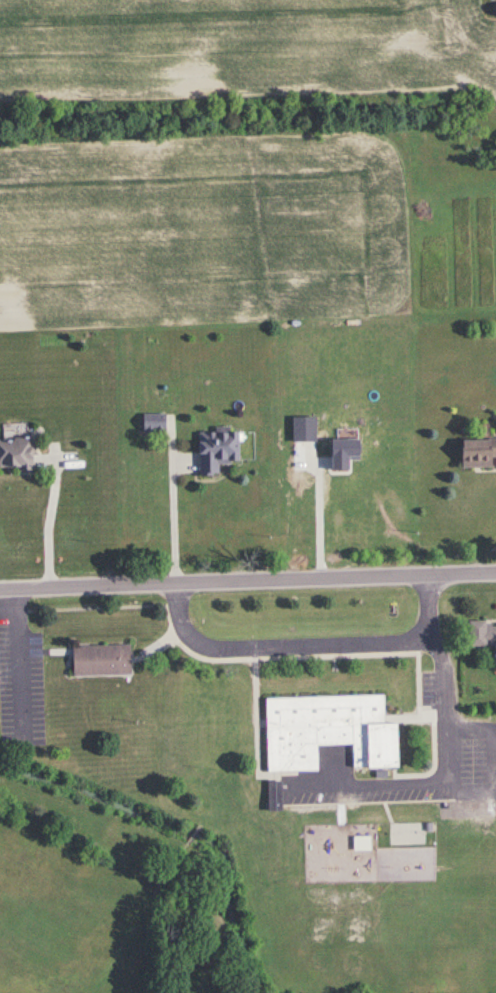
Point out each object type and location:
building: (152, 422)
building: (215, 450)
building: (476, 452)
building: (15, 453)
road: (300, 510)
road: (172, 514)
road: (48, 524)
road: (248, 578)
building: (482, 636)
road: (308, 645)
building: (98, 660)
building: (325, 731)
road: (447, 778)
building: (273, 796)

